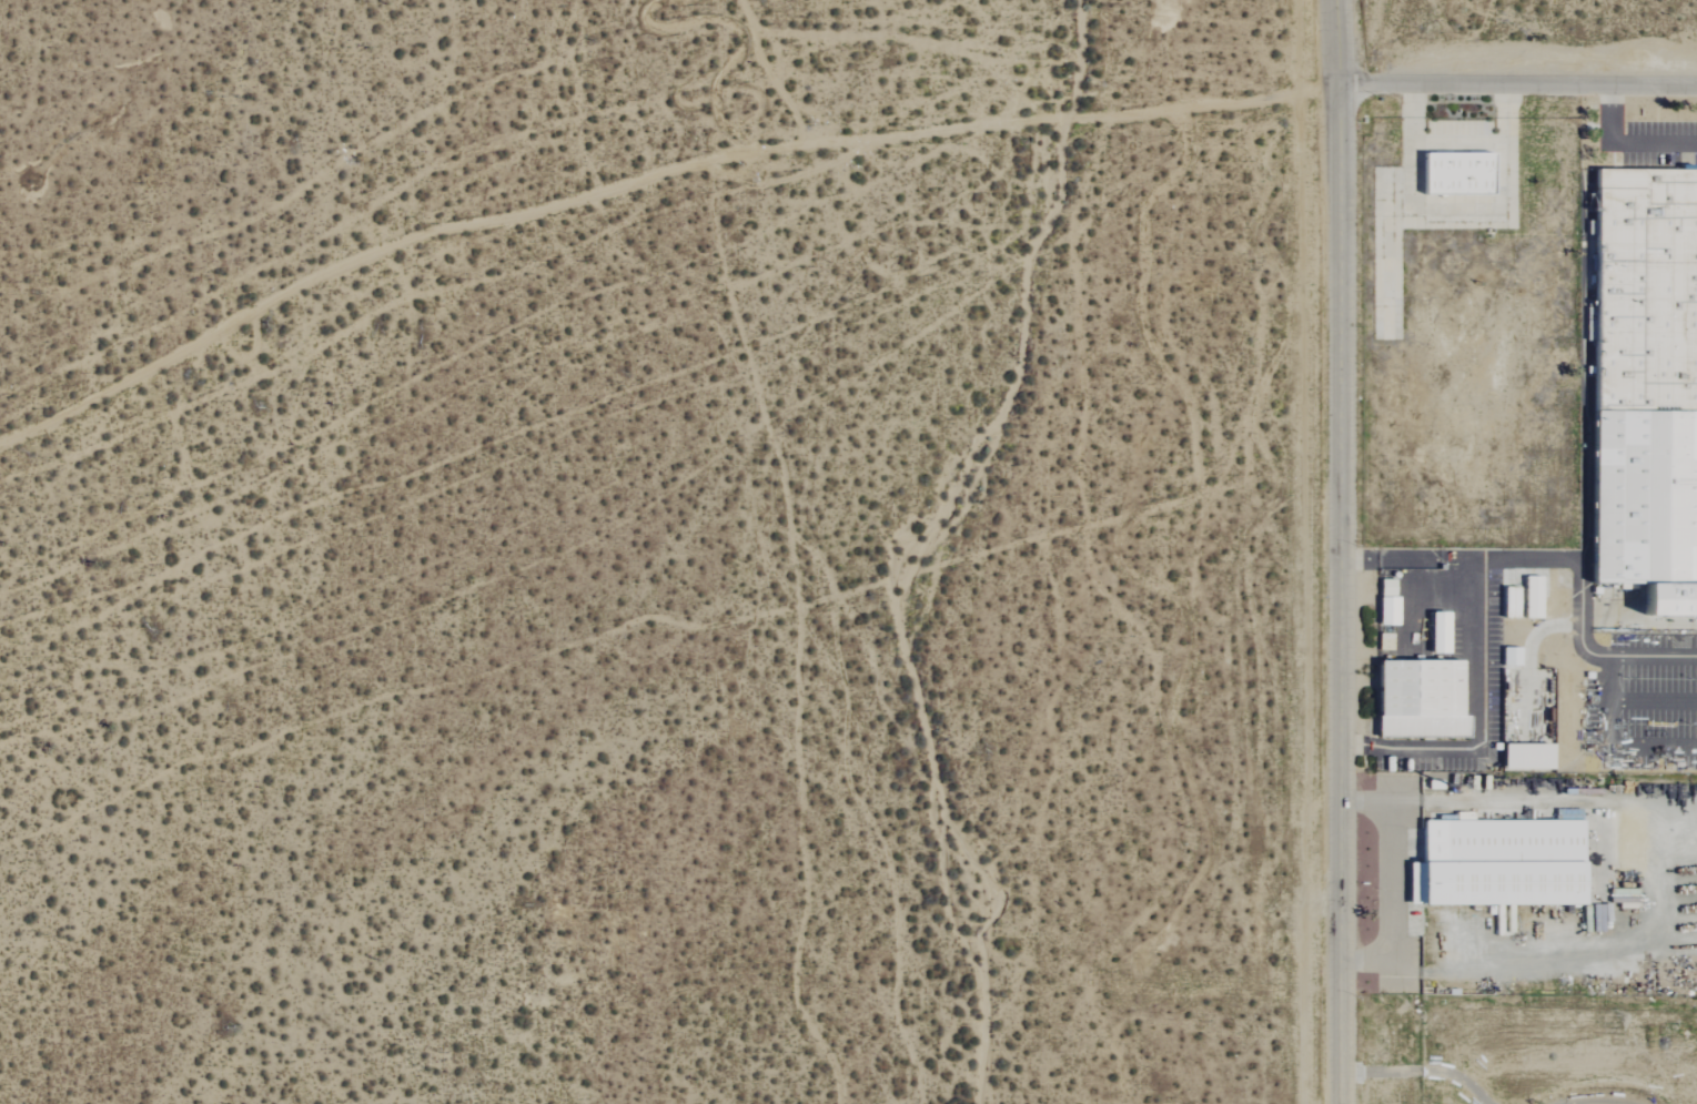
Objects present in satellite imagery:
road: (1518, 93)
road: (1457, 143)
road: (1630, 144)
building: (1453, 172)
building: (1644, 386)
road: (1342, 551)
road: (1406, 559)
road: (1503, 560)
building: (1384, 588)
building: (1528, 597)
building: (1506, 601)
building: (1385, 610)
building: (1435, 632)
building: (1508, 656)
road: (1654, 656)
building: (1416, 699)
road: (1653, 701)
building: (1523, 756)
building: (1501, 864)
road: (1392, 880)

